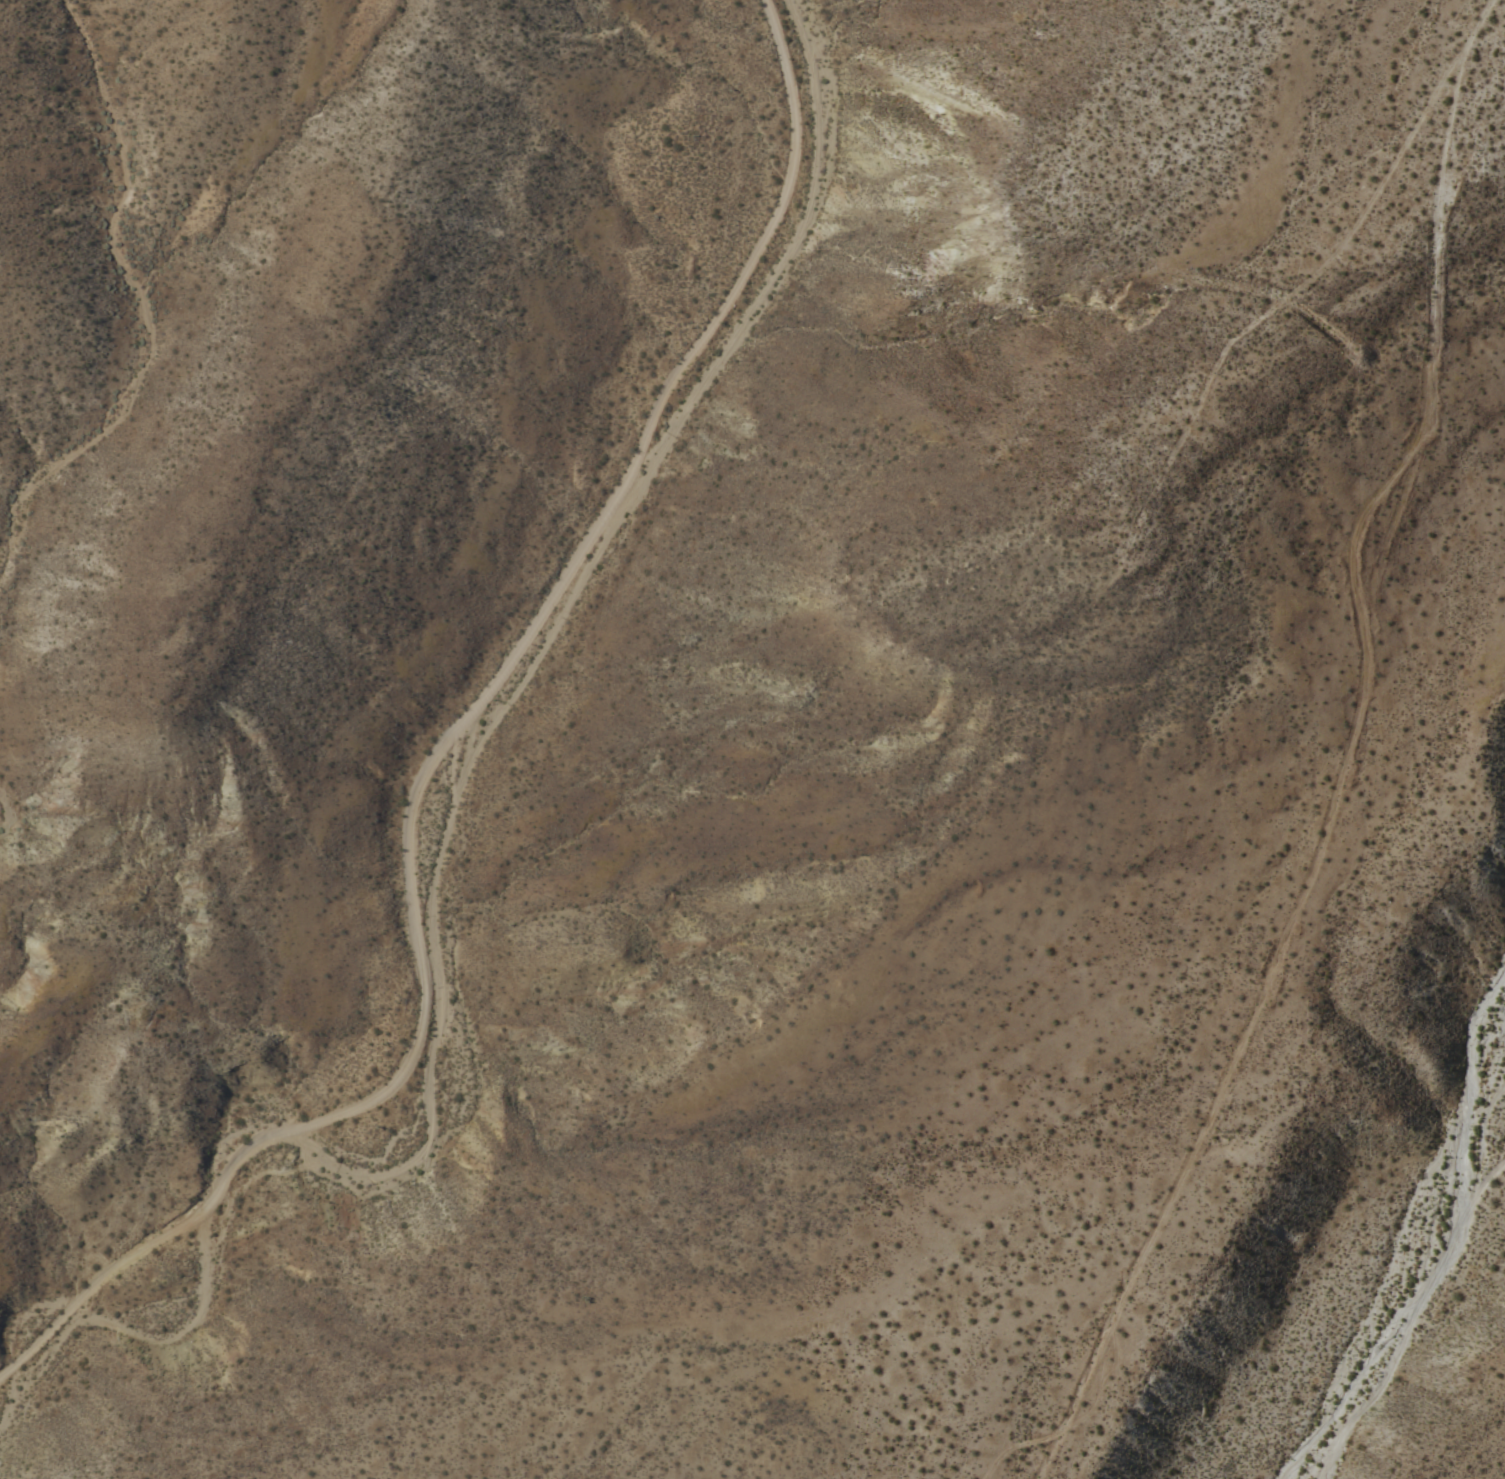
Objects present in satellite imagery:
road: (478, 745)
road: (1410, 1319)

